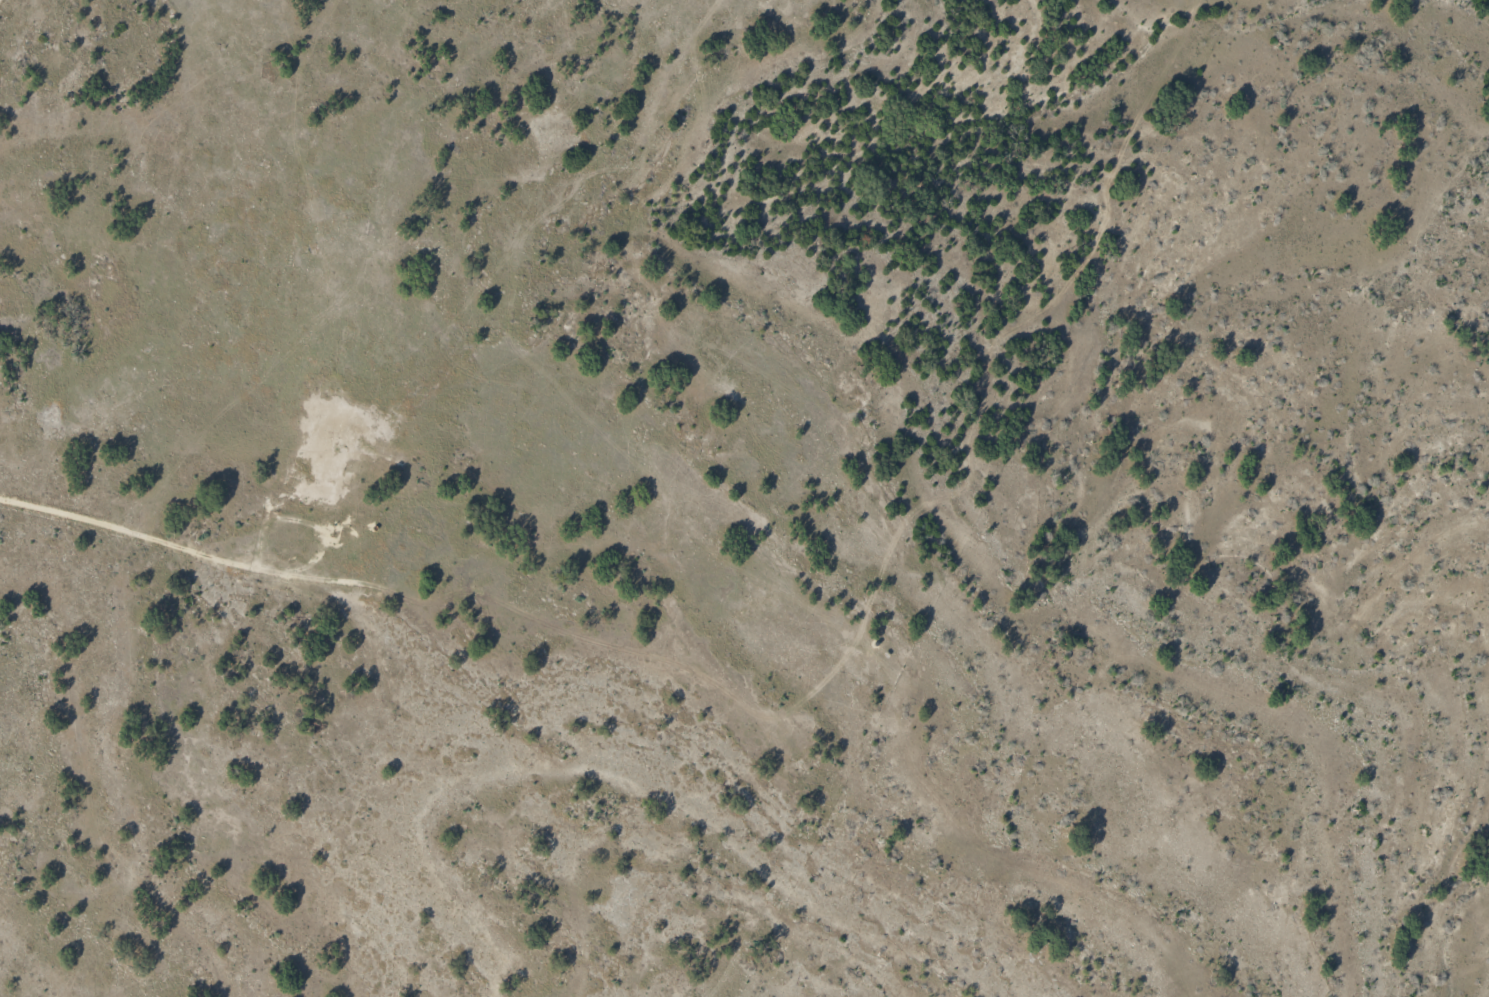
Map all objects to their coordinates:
road: (133, 532)

